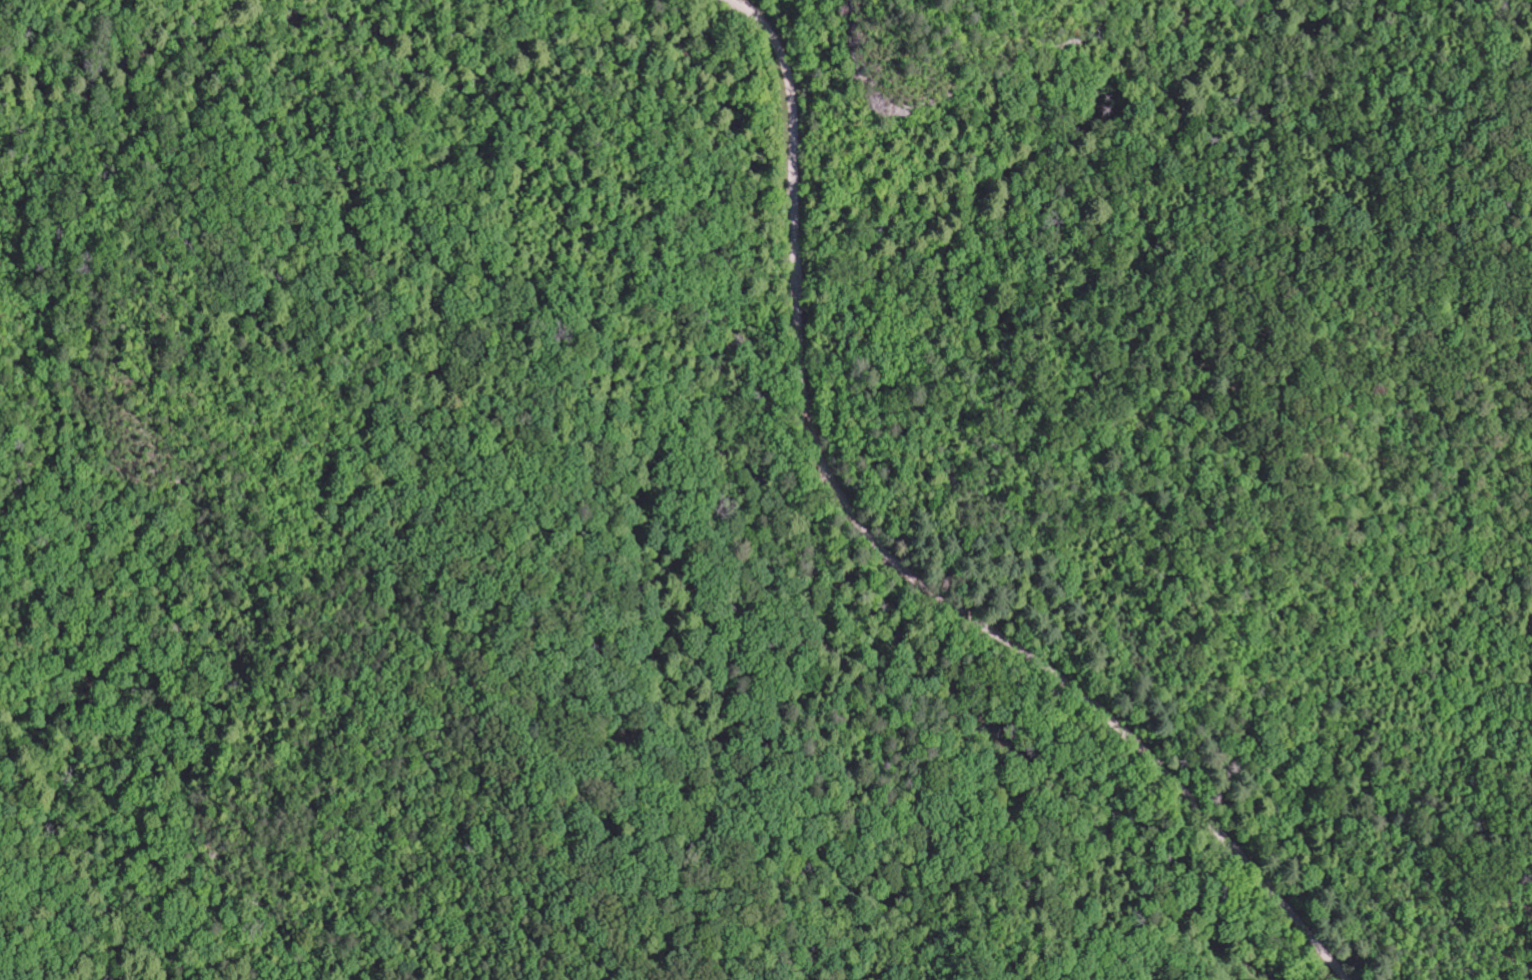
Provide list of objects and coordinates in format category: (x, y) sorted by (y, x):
road: (710, 292)
road: (901, 561)

